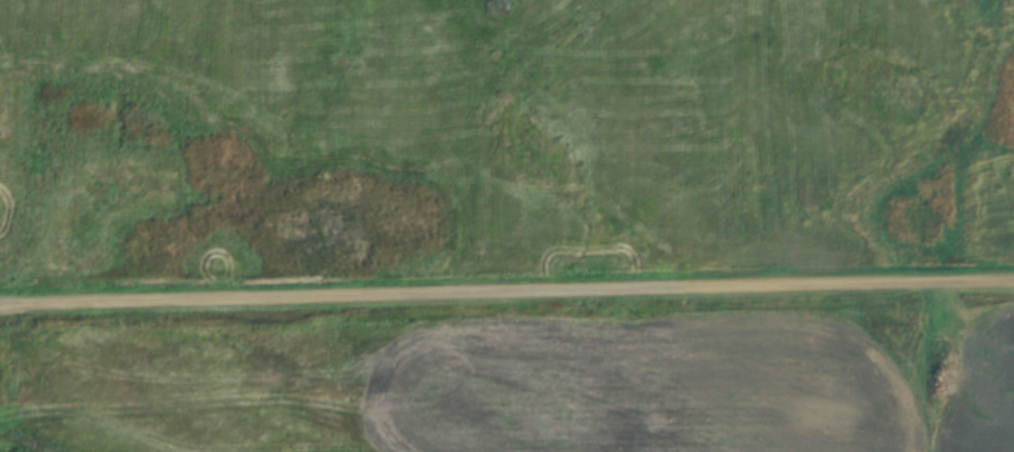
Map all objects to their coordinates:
road: (507, 299)
river: (2, 451)

